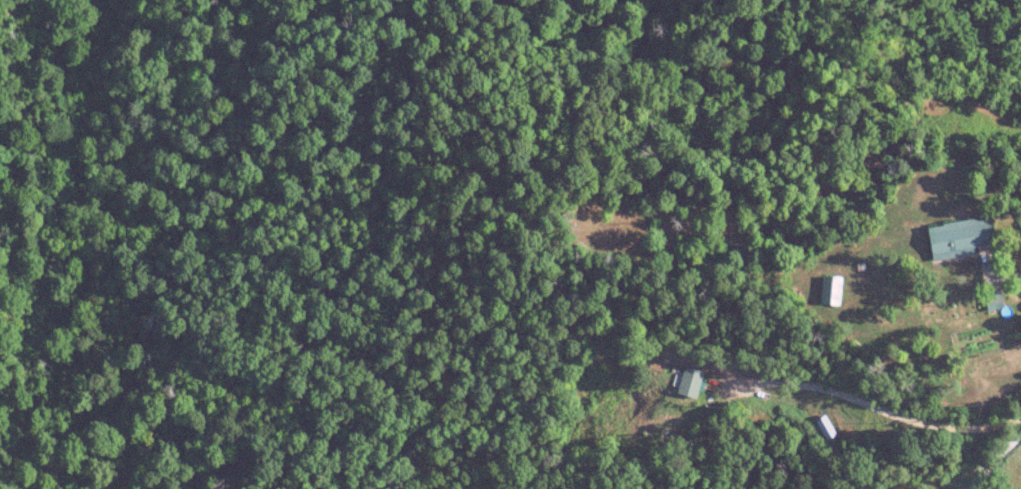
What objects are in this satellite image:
building: (960, 239)
building: (690, 383)
building: (825, 427)
road: (996, 458)

